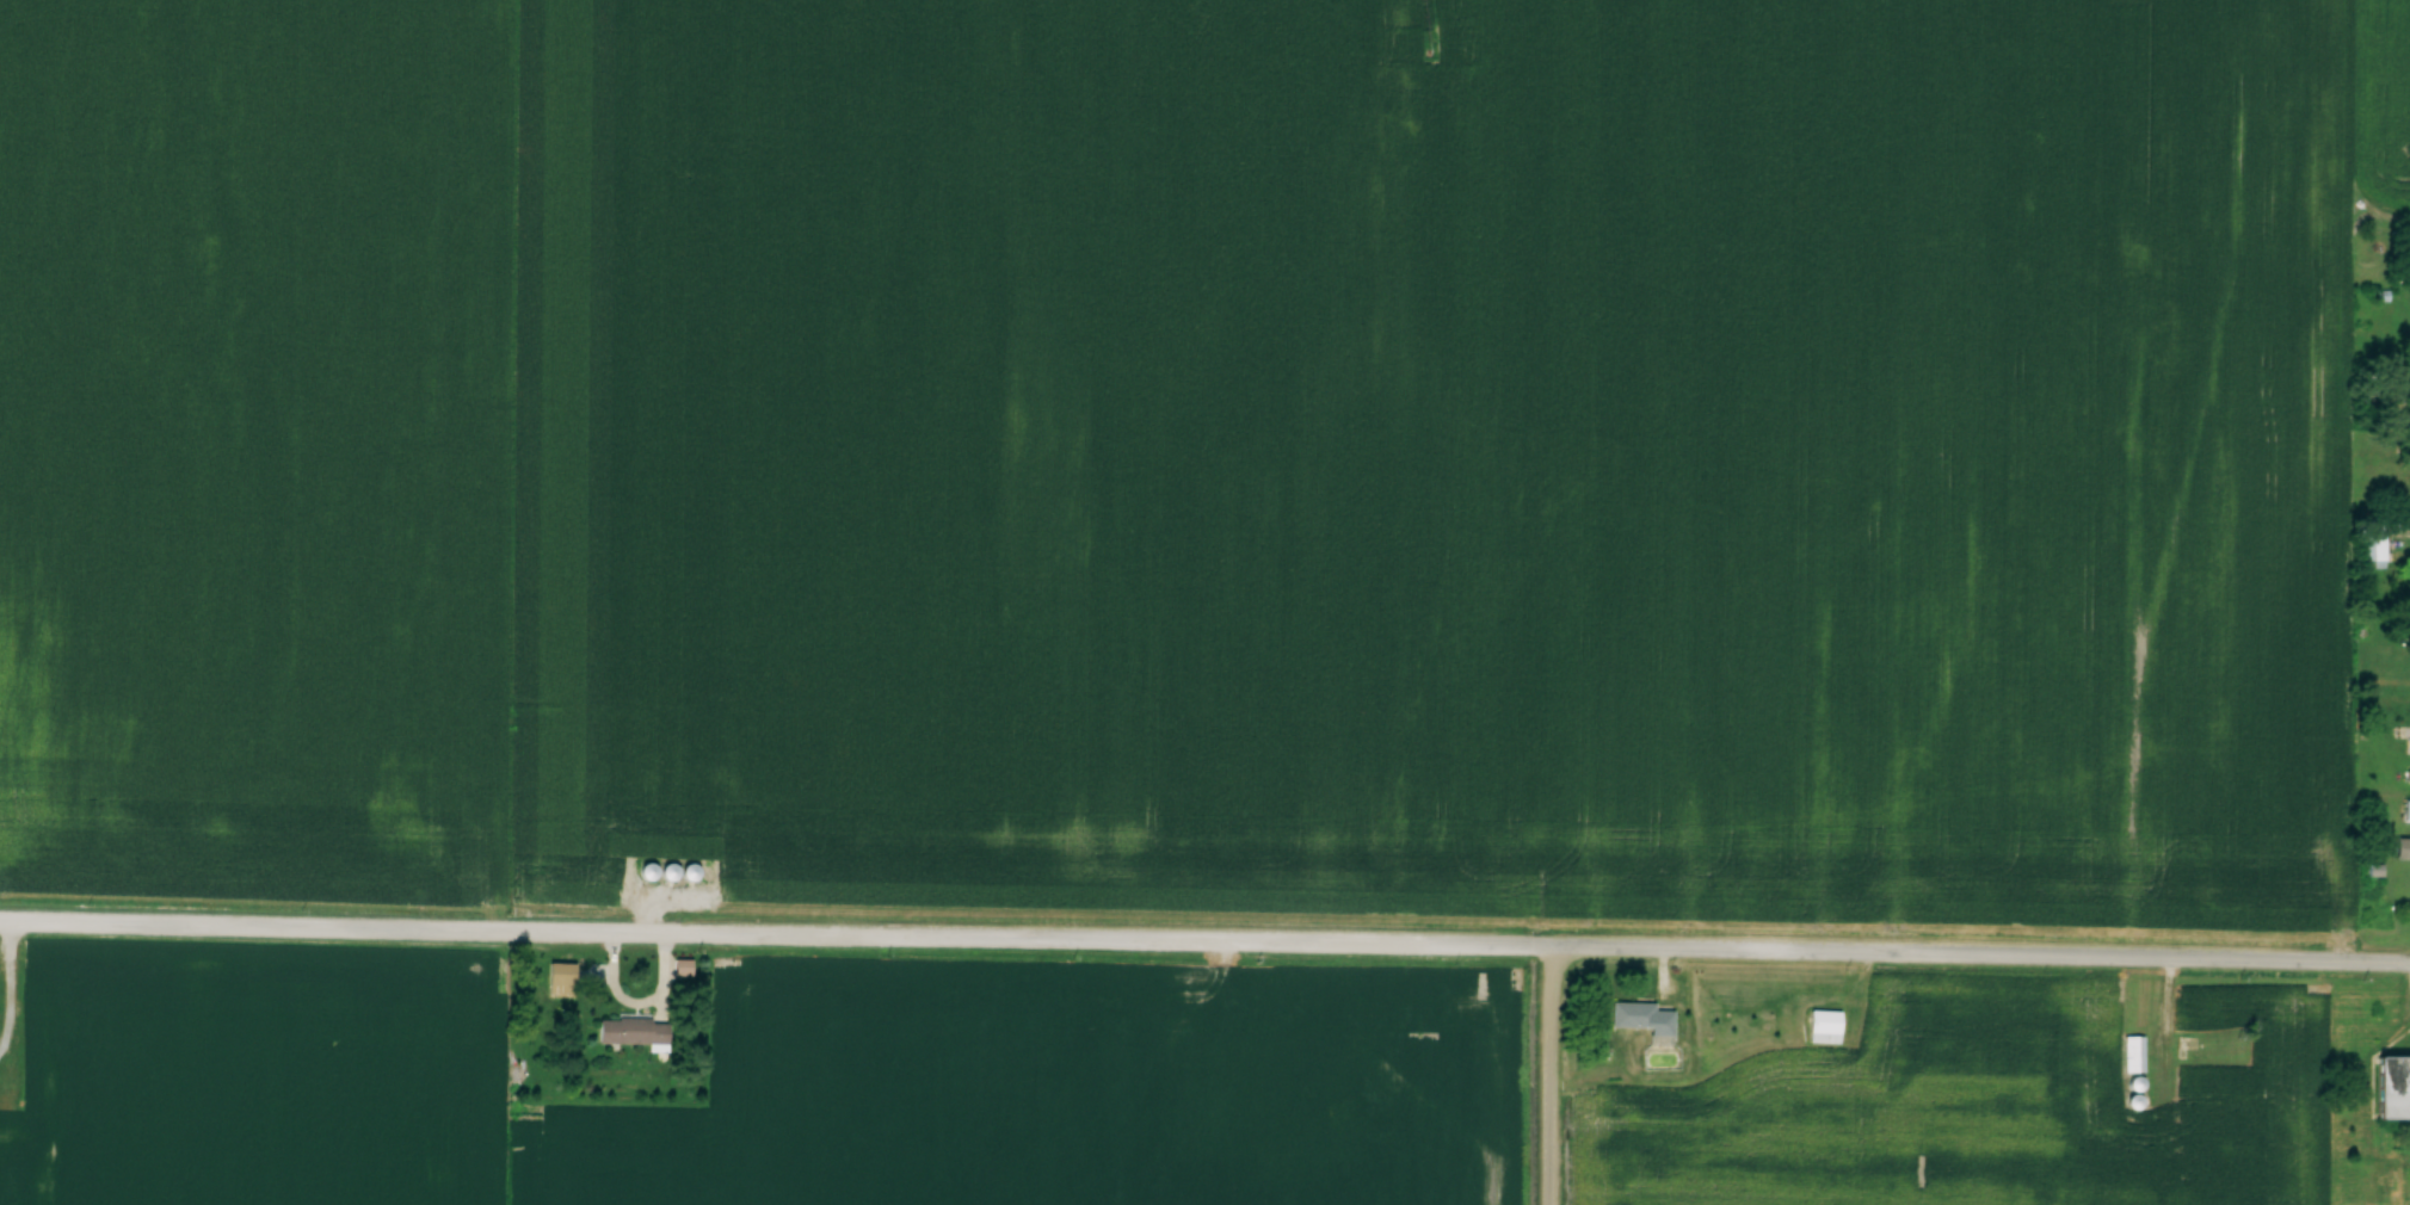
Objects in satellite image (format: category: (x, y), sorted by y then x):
building: (2405, 390)
building: (2397, 418)
building: (2373, 537)
building: (2406, 810)
building: (2402, 848)
road: (1204, 940)
building: (560, 980)
building: (1642, 1016)
building: (1824, 1027)
building: (633, 1031)
building: (2134, 1053)
road: (1552, 1076)
building: (2392, 1088)

